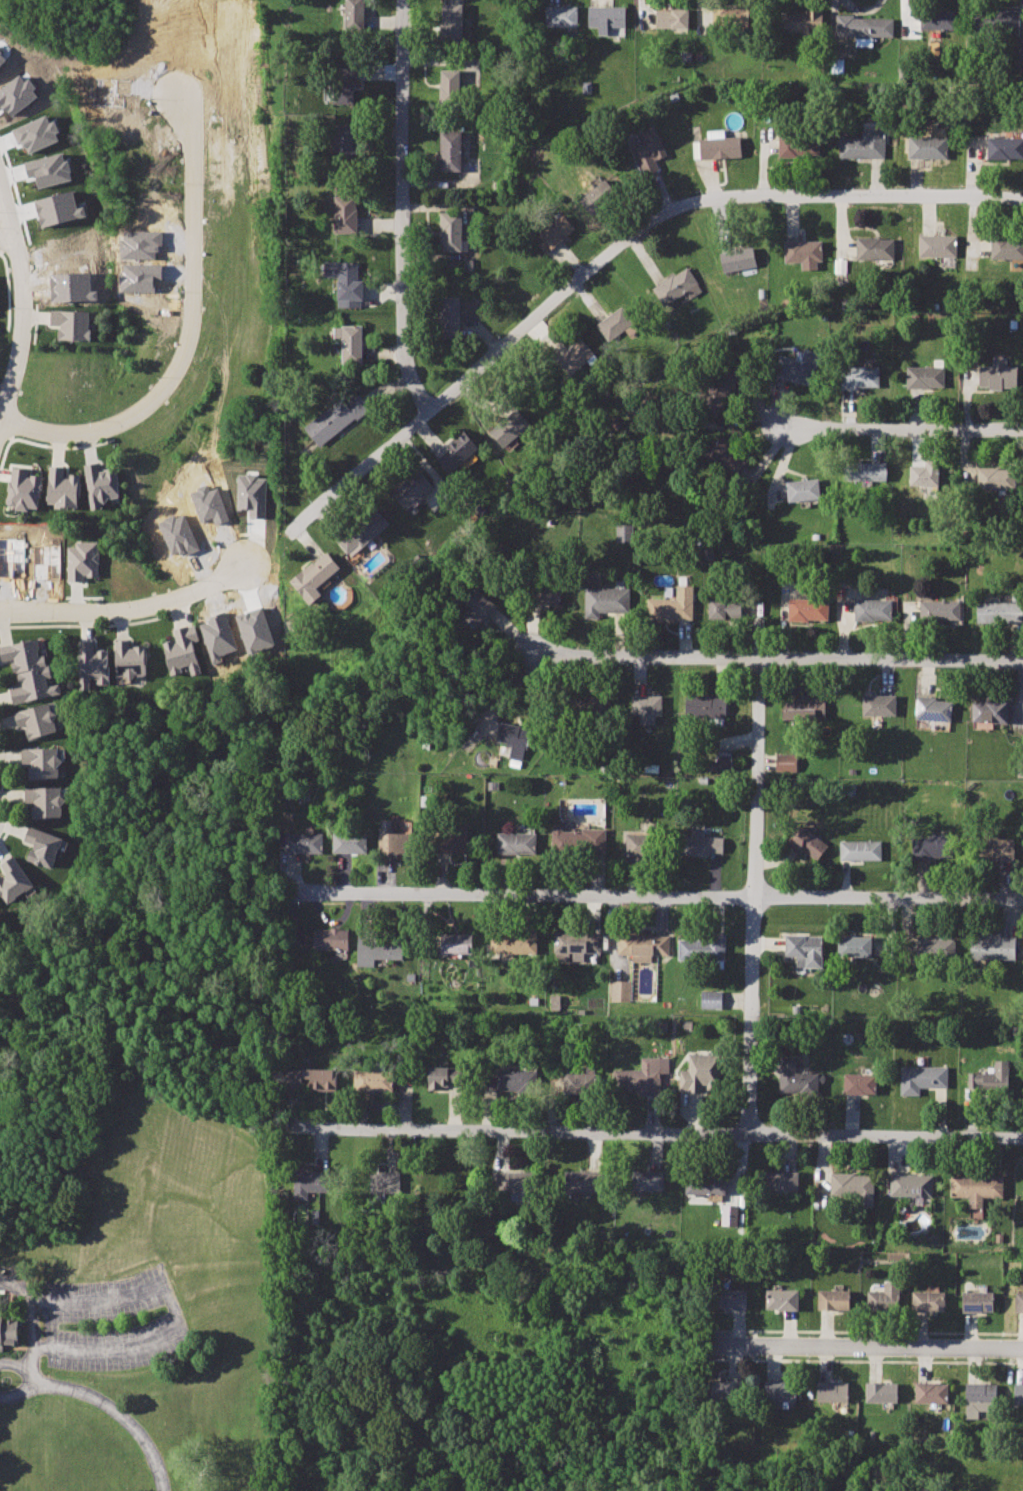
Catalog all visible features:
building: (354, 16)
building: (561, 16)
building: (605, 17)
building: (672, 18)
building: (728, 18)
building: (938, 19)
building: (993, 21)
building: (805, 22)
building: (453, 23)
building: (862, 26)
building: (1019, 48)
building: (343, 81)
building: (450, 86)
building: (36, 134)
building: (346, 143)
building: (862, 143)
building: (799, 145)
building: (926, 146)
building: (1005, 147)
building: (720, 148)
building: (648, 149)
building: (451, 150)
building: (48, 169)
building: (602, 200)
building: (58, 208)
road: (401, 209)
building: (346, 213)
road: (5, 229)
building: (451, 231)
building: (554, 235)
building: (938, 246)
building: (875, 248)
building: (1007, 248)
building: (803, 252)
road: (616, 253)
building: (738, 258)
building: (344, 281)
building: (676, 286)
road: (26, 313)
building: (449, 316)
building: (615, 322)
building: (72, 323)
road: (186, 335)
building: (350, 342)
building: (576, 356)
building: (797, 367)
building: (996, 374)
building: (859, 376)
building: (925, 377)
building: (720, 387)
building: (335, 418)
road: (904, 422)
building: (512, 427)
building: (457, 452)
building: (726, 455)
building: (866, 471)
building: (922, 474)
building: (997, 478)
building: (101, 485)
building: (63, 487)
building: (803, 489)
building: (23, 490)
building: (413, 490)
building: (359, 532)
building: (623, 532)
building: (81, 560)
building: (315, 576)
building: (546, 594)
building: (606, 600)
building: (672, 605)
building: (725, 608)
road: (127, 609)
building: (478, 609)
building: (872, 609)
building: (808, 610)
building: (939, 611)
building: (998, 613)
building: (183, 648)
road: (778, 658)
building: (129, 660)
building: (92, 663)
building: (27, 671)
building: (647, 705)
building: (701, 705)
building: (879, 705)
building: (590, 706)
building: (933, 708)
building: (804, 709)
building: (990, 711)
building: (37, 720)
building: (514, 739)
building: (42, 762)
building: (721, 769)
building: (786, 769)
building: (45, 801)
building: (585, 840)
building: (395, 841)
building: (451, 842)
building: (304, 843)
building: (350, 843)
building: (516, 843)
building: (701, 843)
building: (808, 844)
building: (639, 845)
building: (43, 846)
building: (929, 849)
building: (995, 849)
building: (860, 851)
building: (15, 881)
road: (656, 895)
road: (756, 897)
building: (331, 939)
building: (457, 942)
building: (514, 942)
building: (577, 944)
building: (643, 944)
building: (802, 945)
building: (854, 946)
building: (933, 946)
building: (992, 946)
building: (375, 949)
building: (704, 949)
building: (621, 990)
building: (710, 999)
building: (698, 1073)
building: (642, 1074)
building: (312, 1077)
building: (447, 1078)
building: (794, 1078)
building: (921, 1078)
building: (992, 1079)
building: (373, 1080)
building: (524, 1081)
building: (581, 1081)
building: (859, 1084)
road: (656, 1135)
building: (386, 1180)
building: (648, 1180)
building: (584, 1181)
building: (704, 1181)
building: (780, 1181)
building: (310, 1182)
building: (911, 1183)
building: (853, 1185)
building: (513, 1186)
building: (977, 1186)
building: (729, 1215)
building: (889, 1296)
building: (783, 1299)
building: (834, 1299)
building: (730, 1300)
building: (928, 1300)
building: (977, 1301)
building: (1020, 1302)
road: (172, 1309)
road: (32, 1319)
parking lot: (114, 1326)
road: (866, 1330)
building: (8, 1333)
road: (871, 1347)
road: (863, 1359)
road: (19, 1366)
building: (727, 1391)
building: (833, 1391)
road: (21, 1392)
building: (781, 1392)
building: (882, 1392)
building: (932, 1392)
building: (982, 1392)
building: (1019, 1393)
road: (119, 1413)

